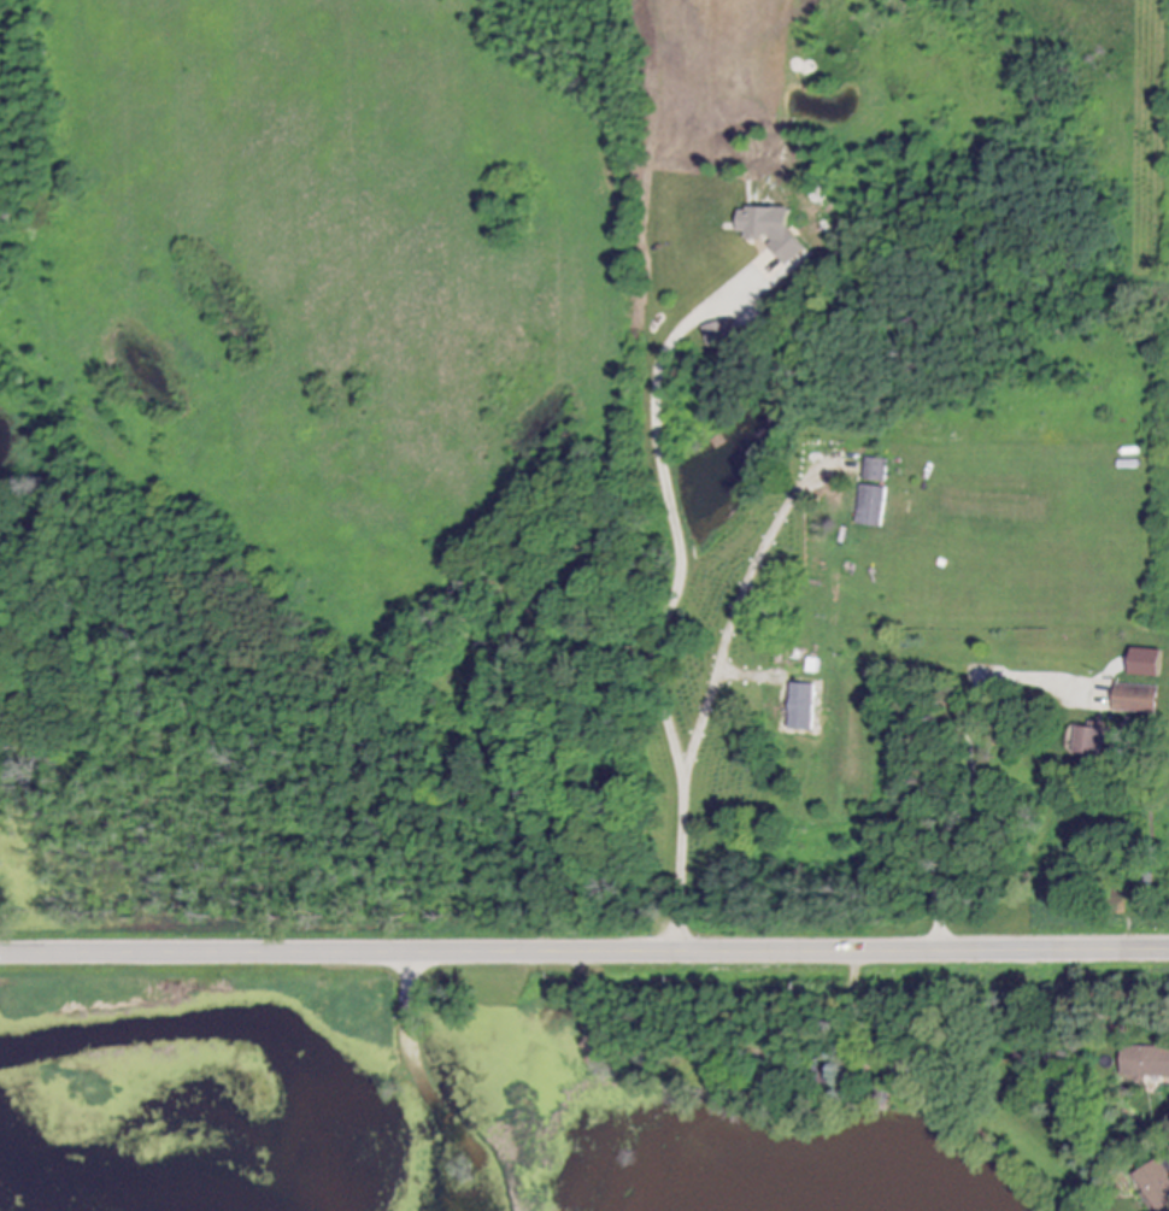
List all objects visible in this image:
building: (779, 231)
building: (723, 334)
building: (879, 471)
building: (876, 507)
building: (1152, 664)
road: (710, 693)
building: (1140, 700)
building: (804, 707)
building: (1102, 741)
road: (962, 770)
road: (584, 950)
building: (1150, 1063)
road: (440, 1147)
building: (1158, 1187)

